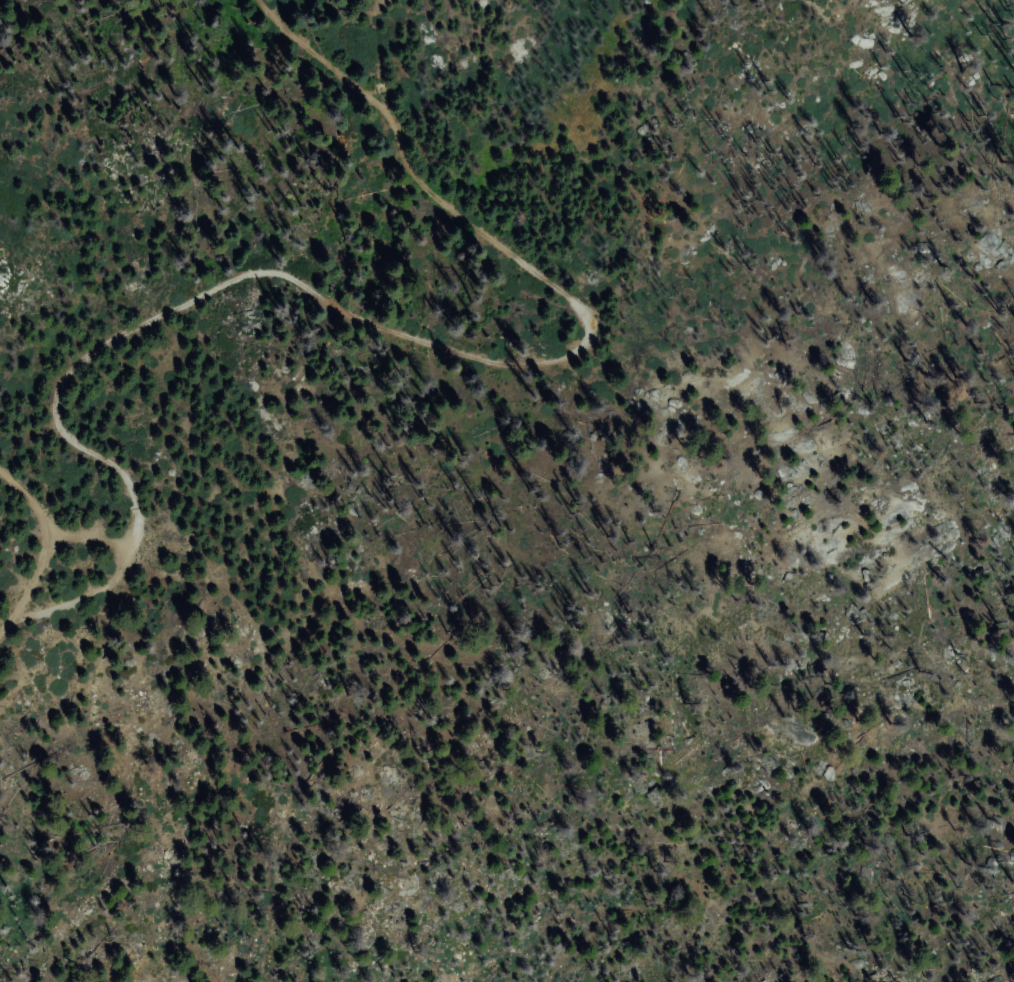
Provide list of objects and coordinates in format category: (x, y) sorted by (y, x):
road: (43, 551)

